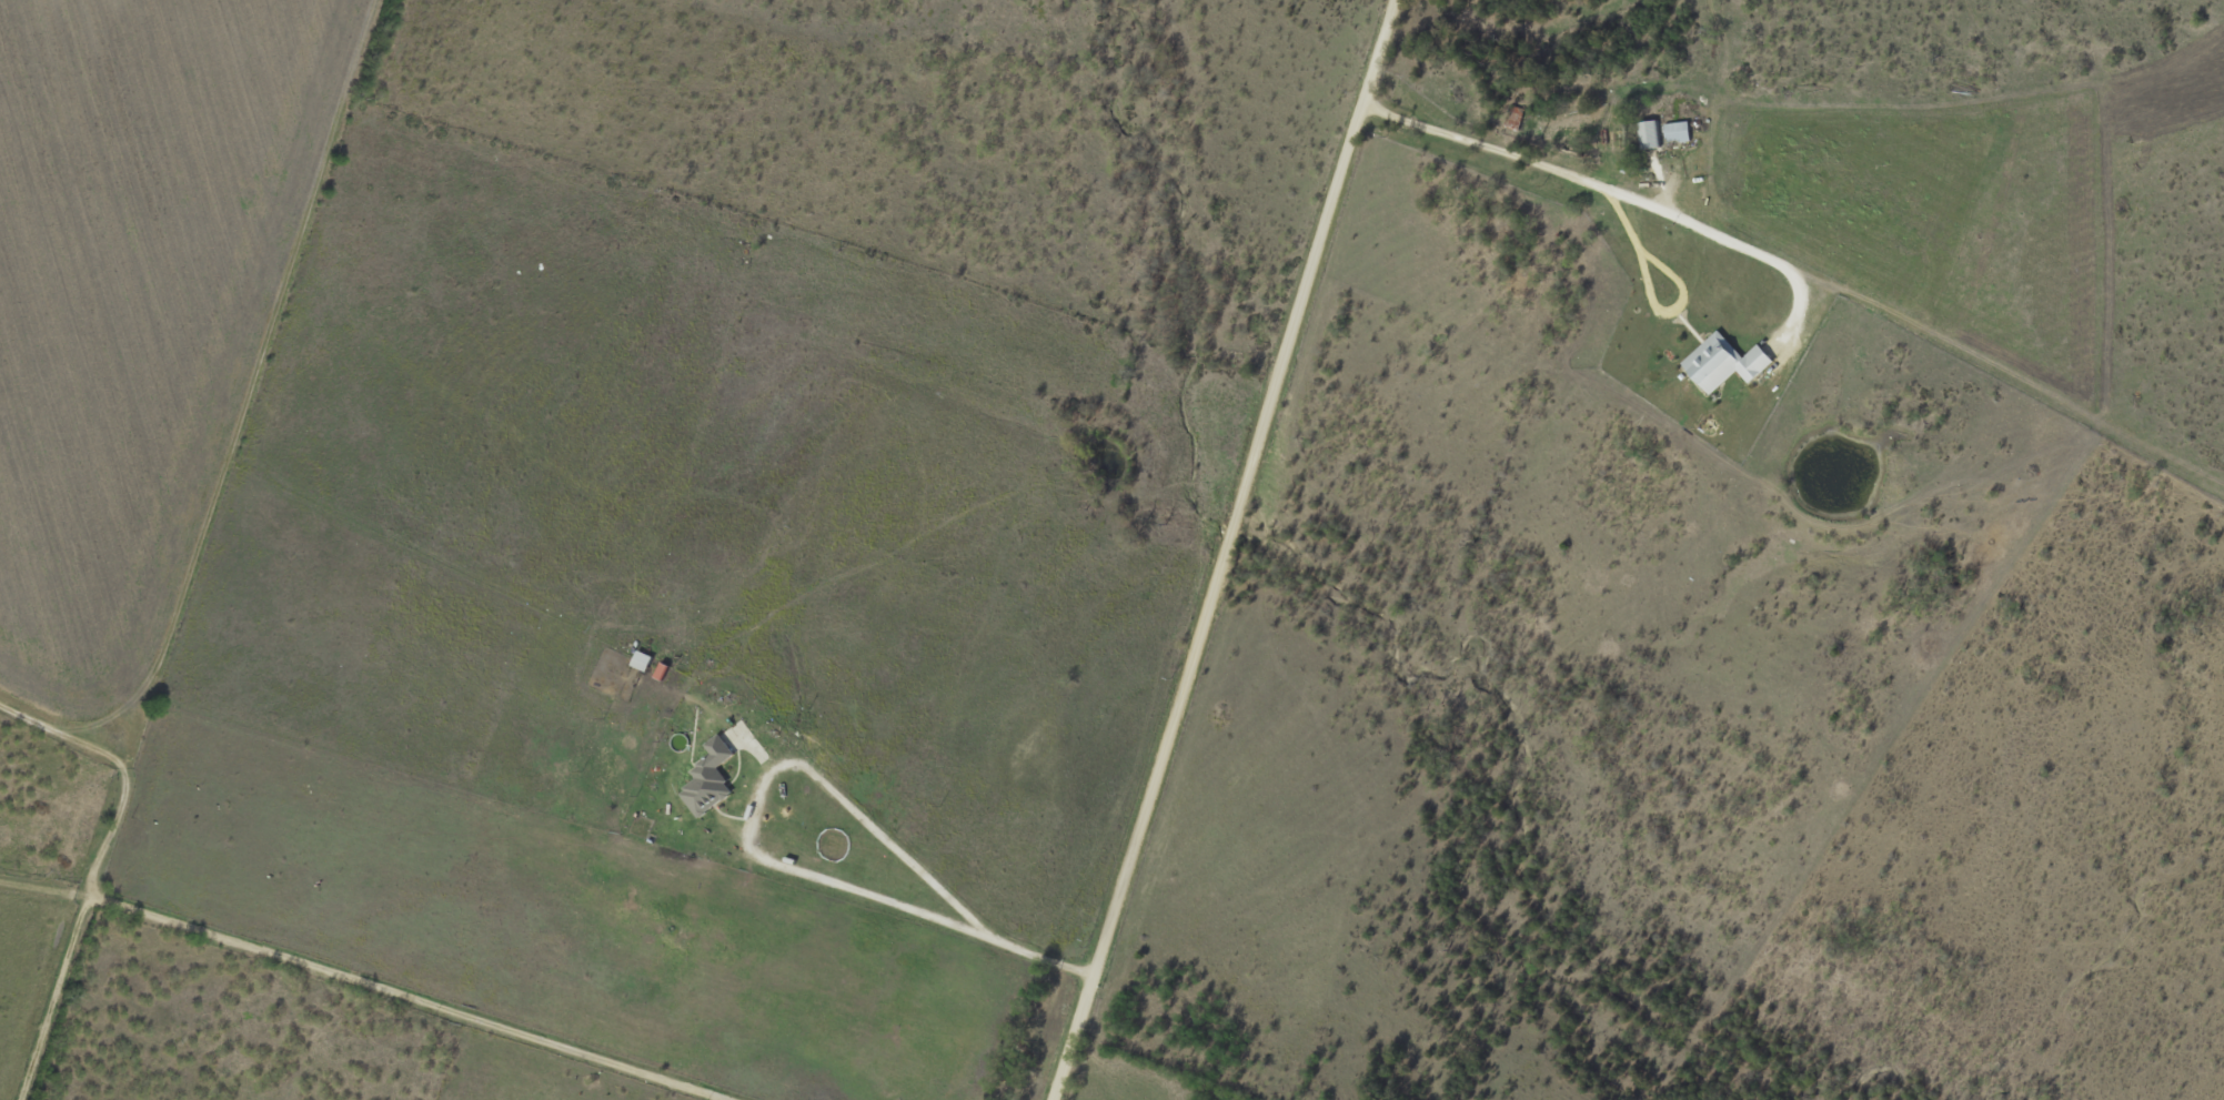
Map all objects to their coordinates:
building: (1677, 131)
building: (1648, 134)
road: (1618, 194)
road: (1220, 548)
road: (747, 845)
road: (279, 959)
road: (1127, 1063)

